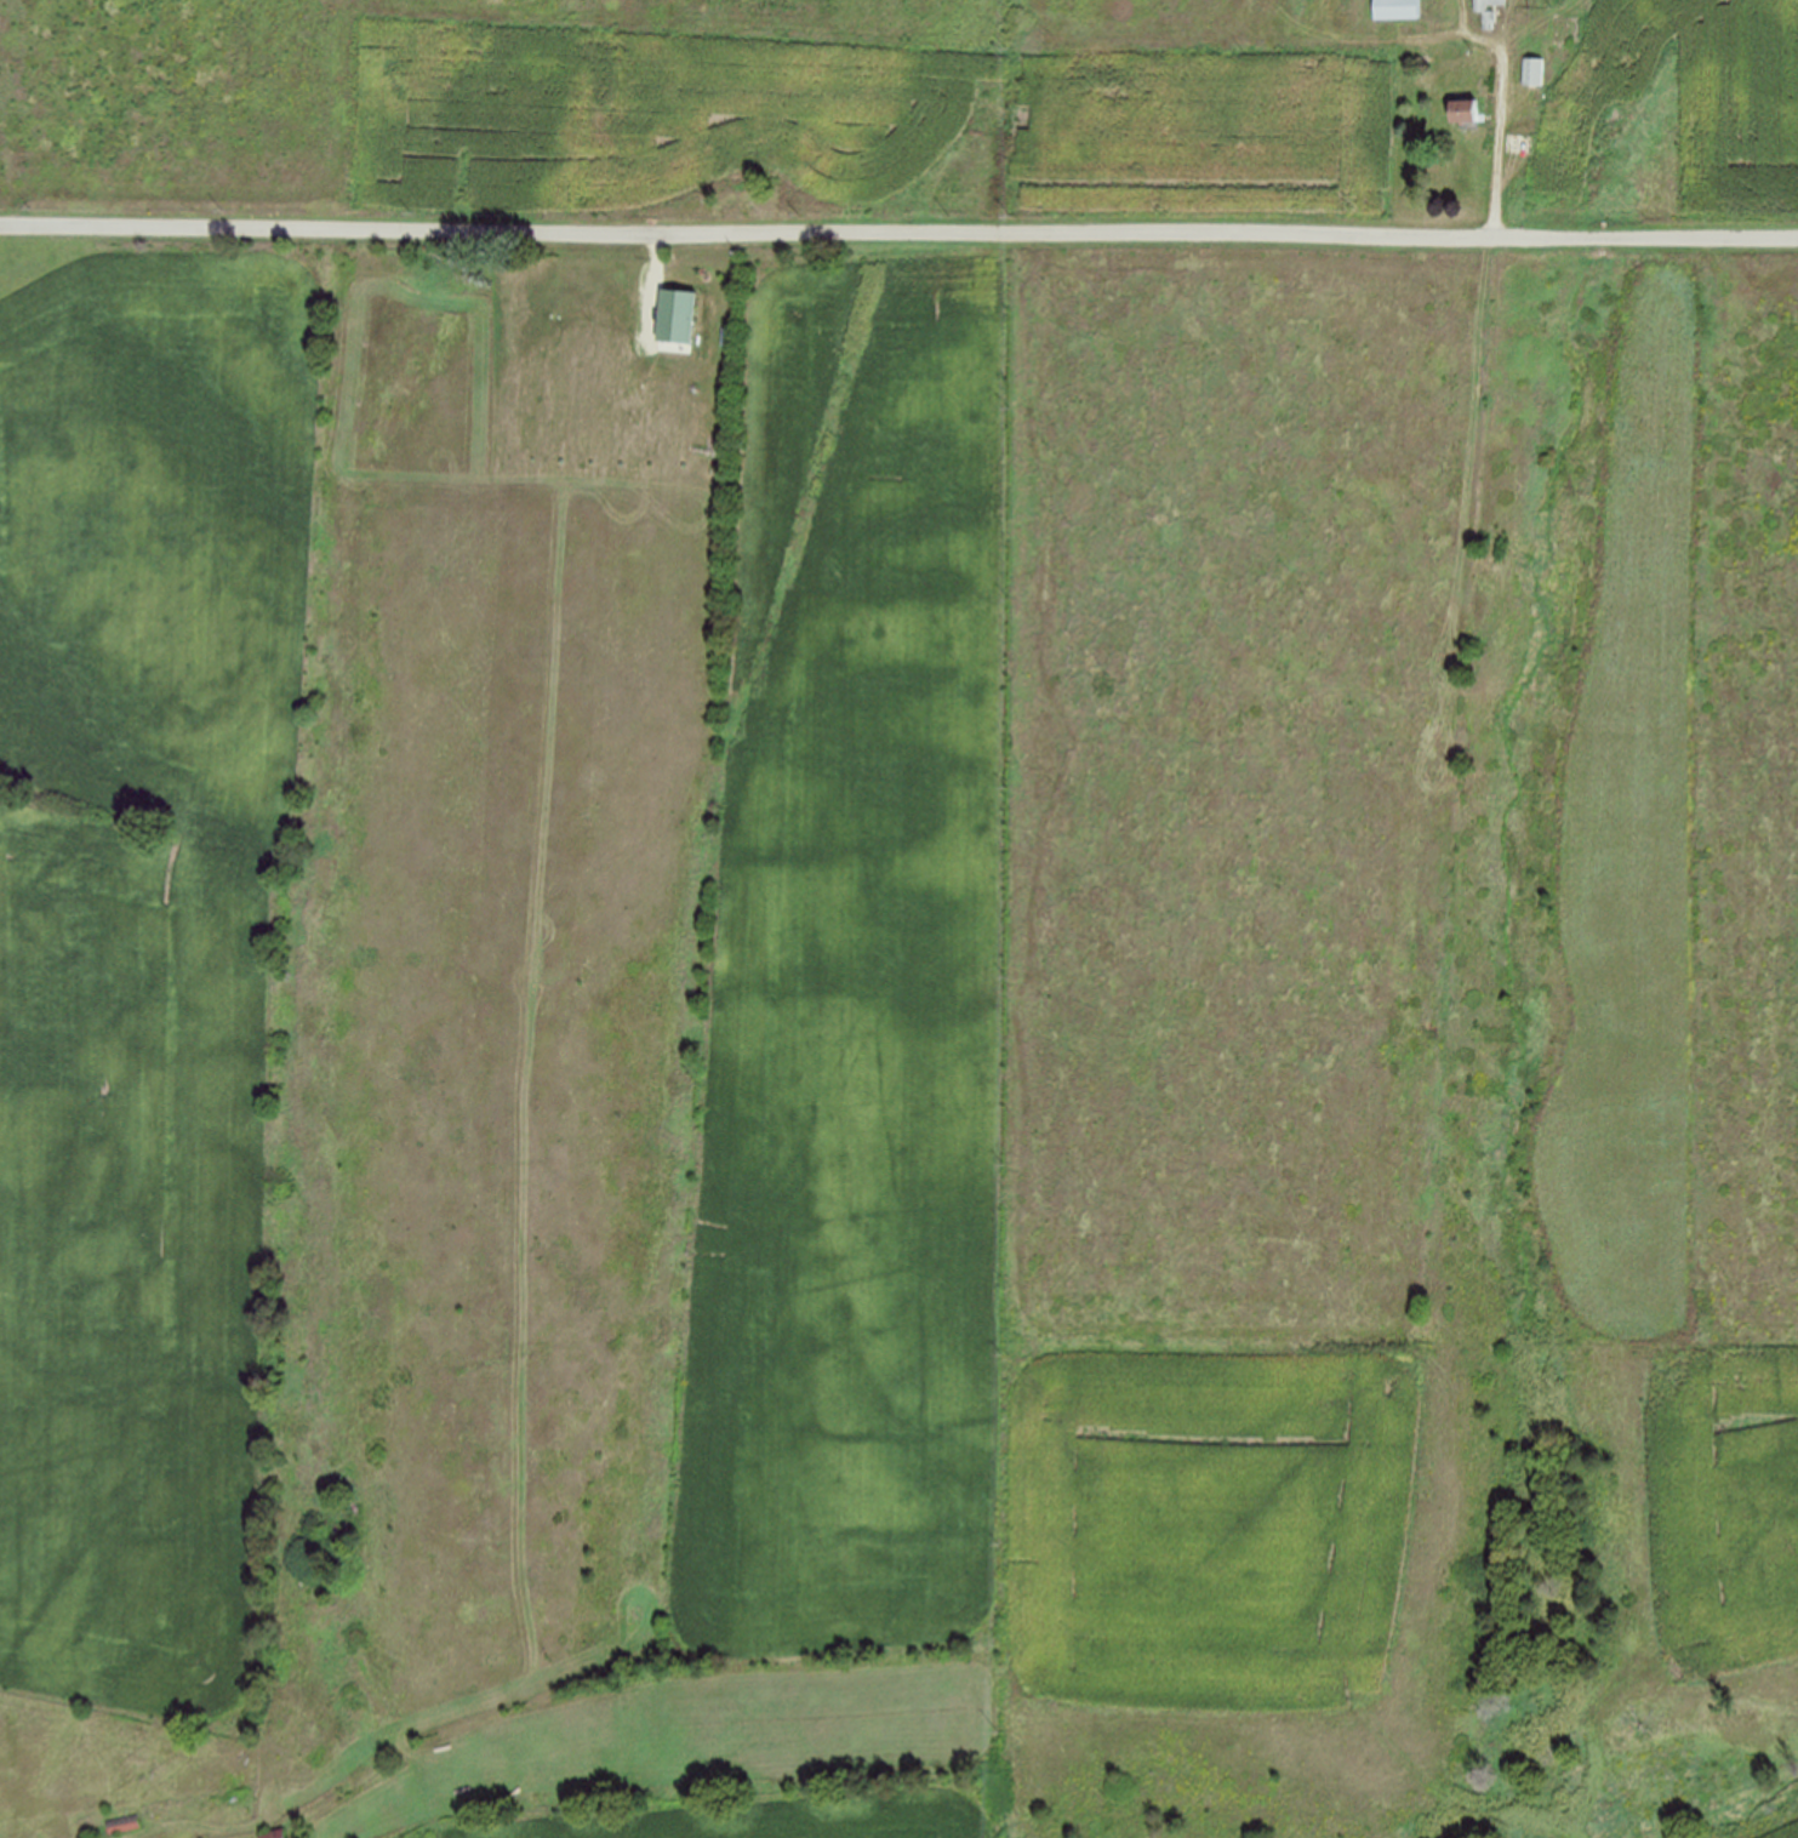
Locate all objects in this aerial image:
building: (1397, 8)
building: (1484, 10)
building: (1534, 72)
road: (1503, 107)
building: (1465, 113)
building: (1519, 143)
road: (898, 233)
building: (125, 1823)
building: (274, 1833)

